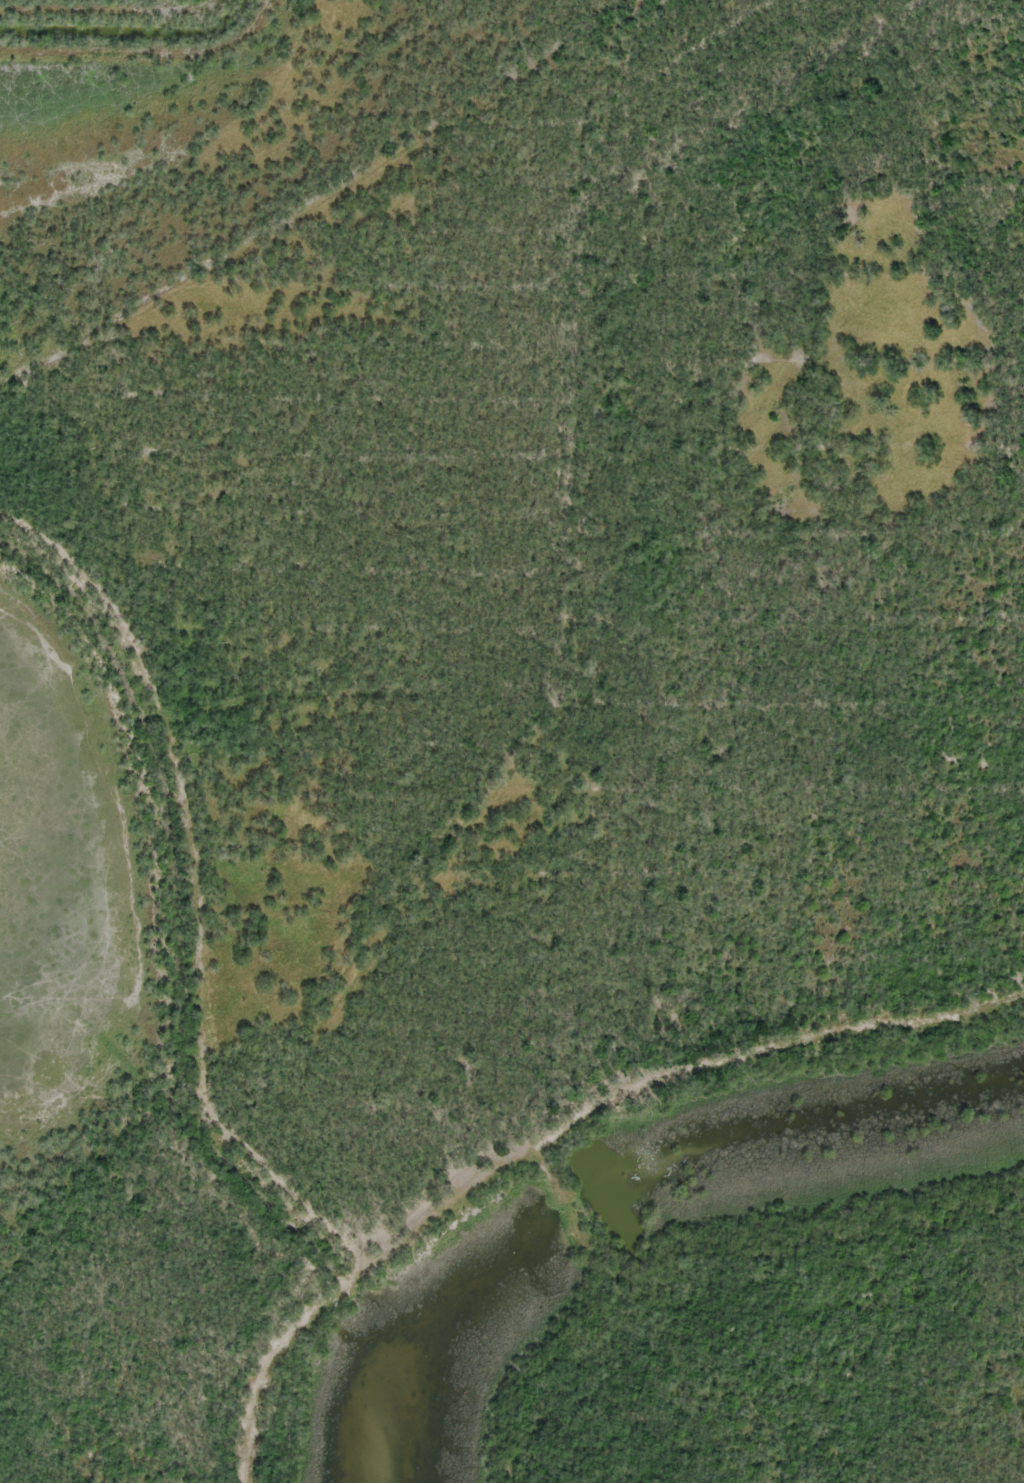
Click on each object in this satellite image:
road: (202, 771)
river: (812, 1150)
road: (465, 1156)
river: (465, 1250)
road: (248, 1328)

